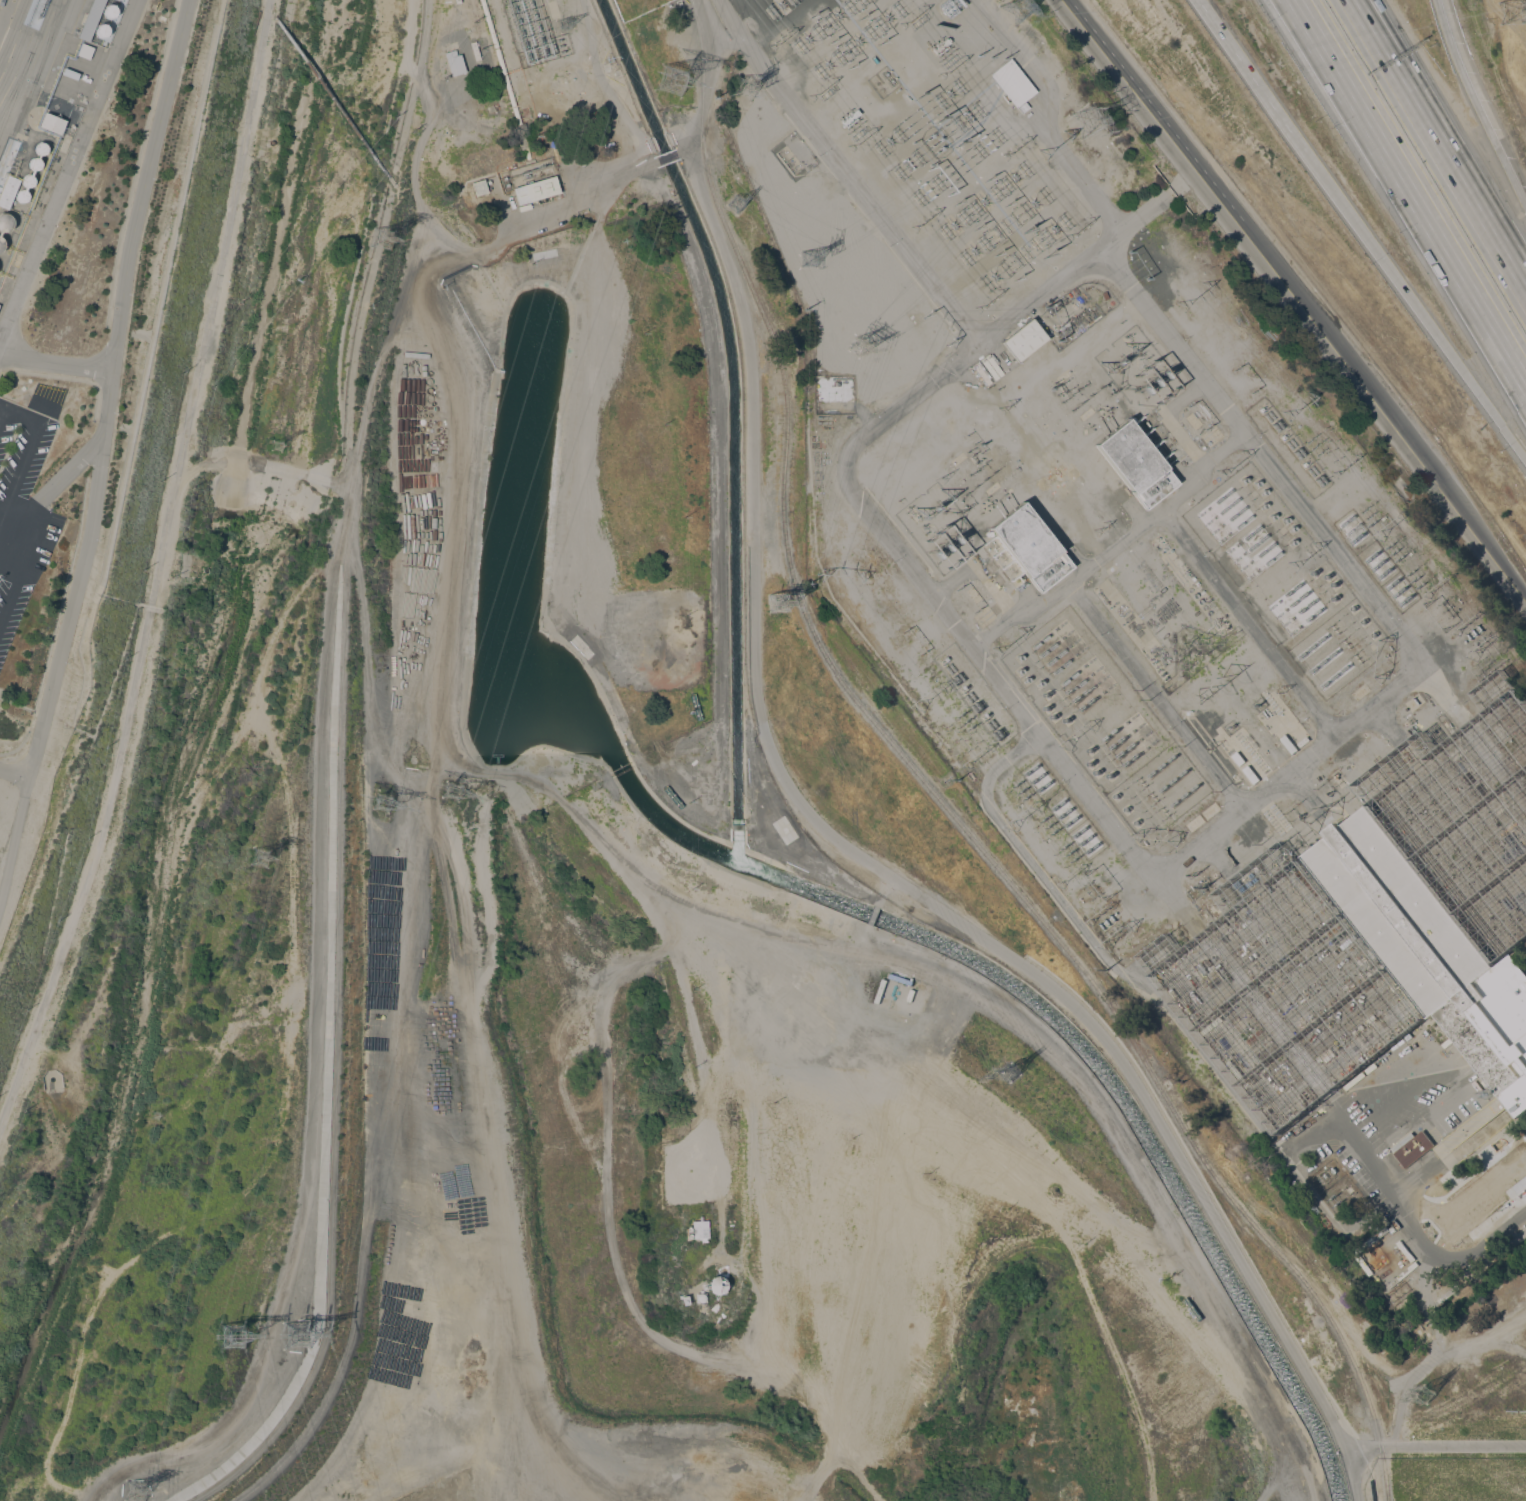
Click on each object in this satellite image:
building: (1, 2)
road: (4, 10)
building: (110, 11)
power tower: (1512, 14)
road: (1296, 15)
road: (1303, 15)
power tower: (1018, 17)
building: (91, 20)
railway: (12, 29)
power tower: (577, 29)
building: (102, 31)
railway: (46, 41)
railway: (19, 43)
building: (83, 51)
railway: (25, 63)
building: (454, 63)
road: (1242, 66)
building: (70, 74)
railway: (15, 82)
railway: (32, 82)
building: (1012, 83)
power tower: (672, 85)
power tower: (754, 95)
road: (1477, 102)
building: (52, 123)
road: (1163, 127)
power tower: (1082, 132)
road: (1440, 142)
road: (685, 145)
building: (41, 149)
road: (666, 157)
building: (34, 164)
road: (69, 169)
building: (28, 181)
building: (479, 187)
building: (536, 190)
building: (8, 191)
road: (584, 195)
building: (22, 196)
road: (1419, 208)
power tower: (740, 218)
building: (5, 222)
power tower: (387, 237)
building: (1, 244)
power tower: (1202, 254)
power tower: (805, 266)
road: (1407, 295)
wastewater plant: (76, 338)
building: (1023, 340)
power tower: (857, 344)
road: (54, 365)
road: (108, 401)
road: (1394, 424)
power tower: (276, 446)
building: (1135, 462)
road: (7, 503)
road: (3, 505)
building: (1028, 547)
power tower: (780, 602)
power substation: (1160, 605)
building: (1303, 741)
building: (1288, 743)
building: (1239, 758)
building: (1251, 774)
railway: (934, 791)
power tower: (452, 793)
power tower: (382, 802)
road: (832, 835)
power tower: (260, 857)
building: (1429, 949)
power tower: (1014, 1077)
power tower: (157, 1114)
building: (1411, 1147)
road: (1396, 1202)
building: (699, 1229)
building: (688, 1234)
building: (1371, 1241)
building: (1402, 1274)
building: (715, 1285)
building: (699, 1297)
building: (683, 1300)
road: (1427, 1312)
power tower: (233, 1339)
power tower: (301, 1339)
power tower: (1427, 1393)
road: (1437, 1447)
power tower: (137, 1495)

